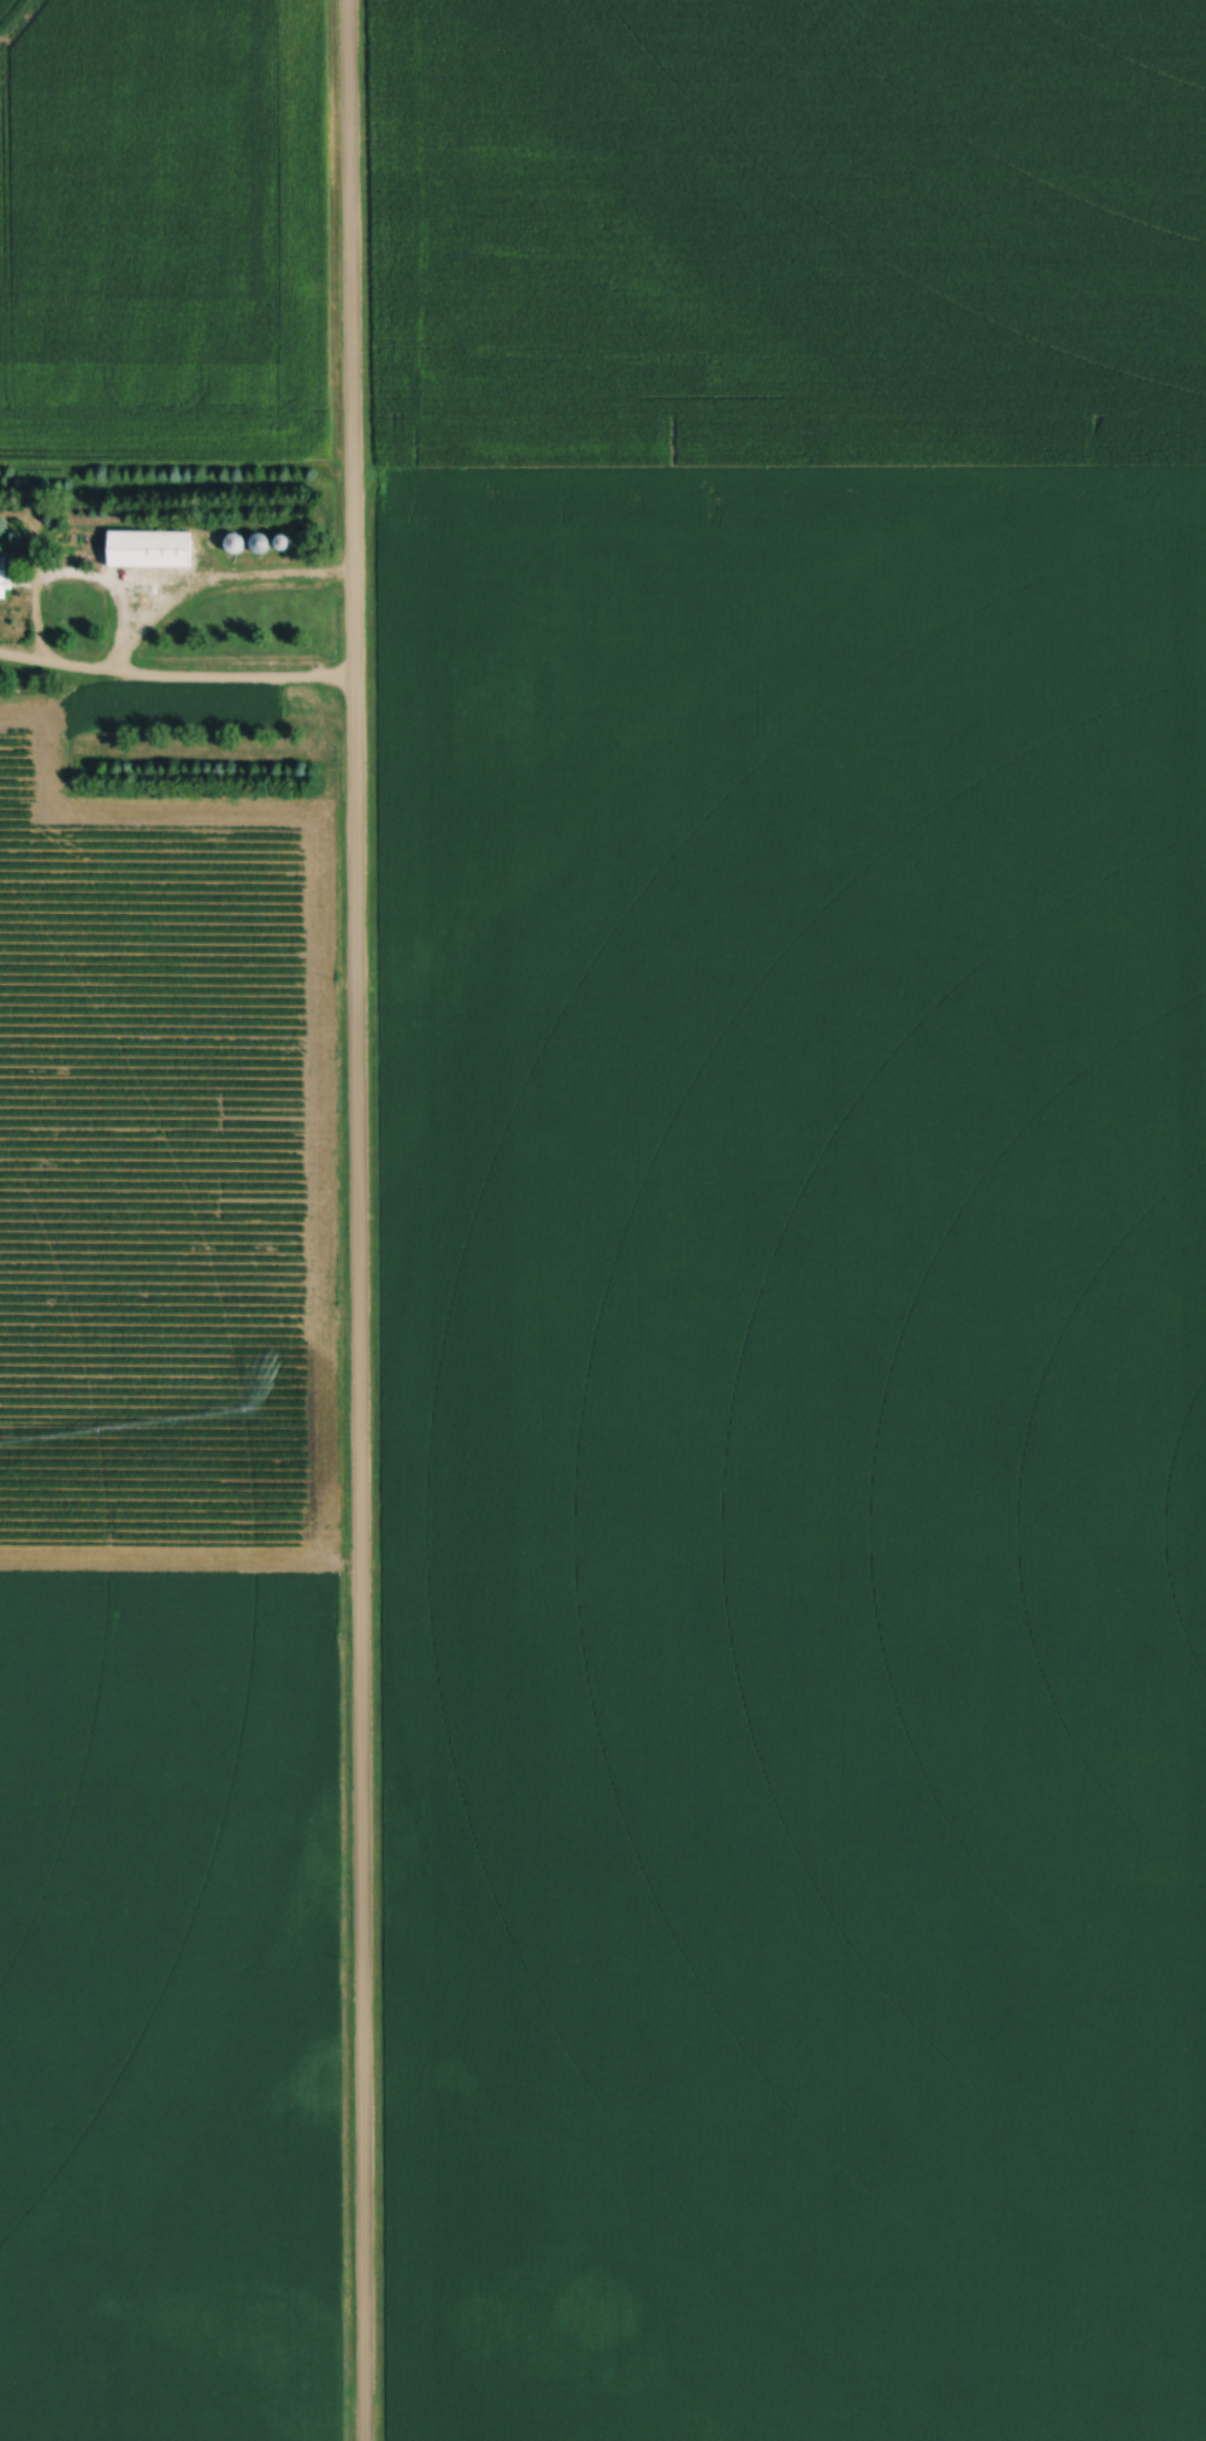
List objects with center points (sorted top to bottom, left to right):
building: (236, 543)
building: (262, 543)
building: (153, 549)
building: (5, 578)
road: (176, 683)
road: (356, 1220)

